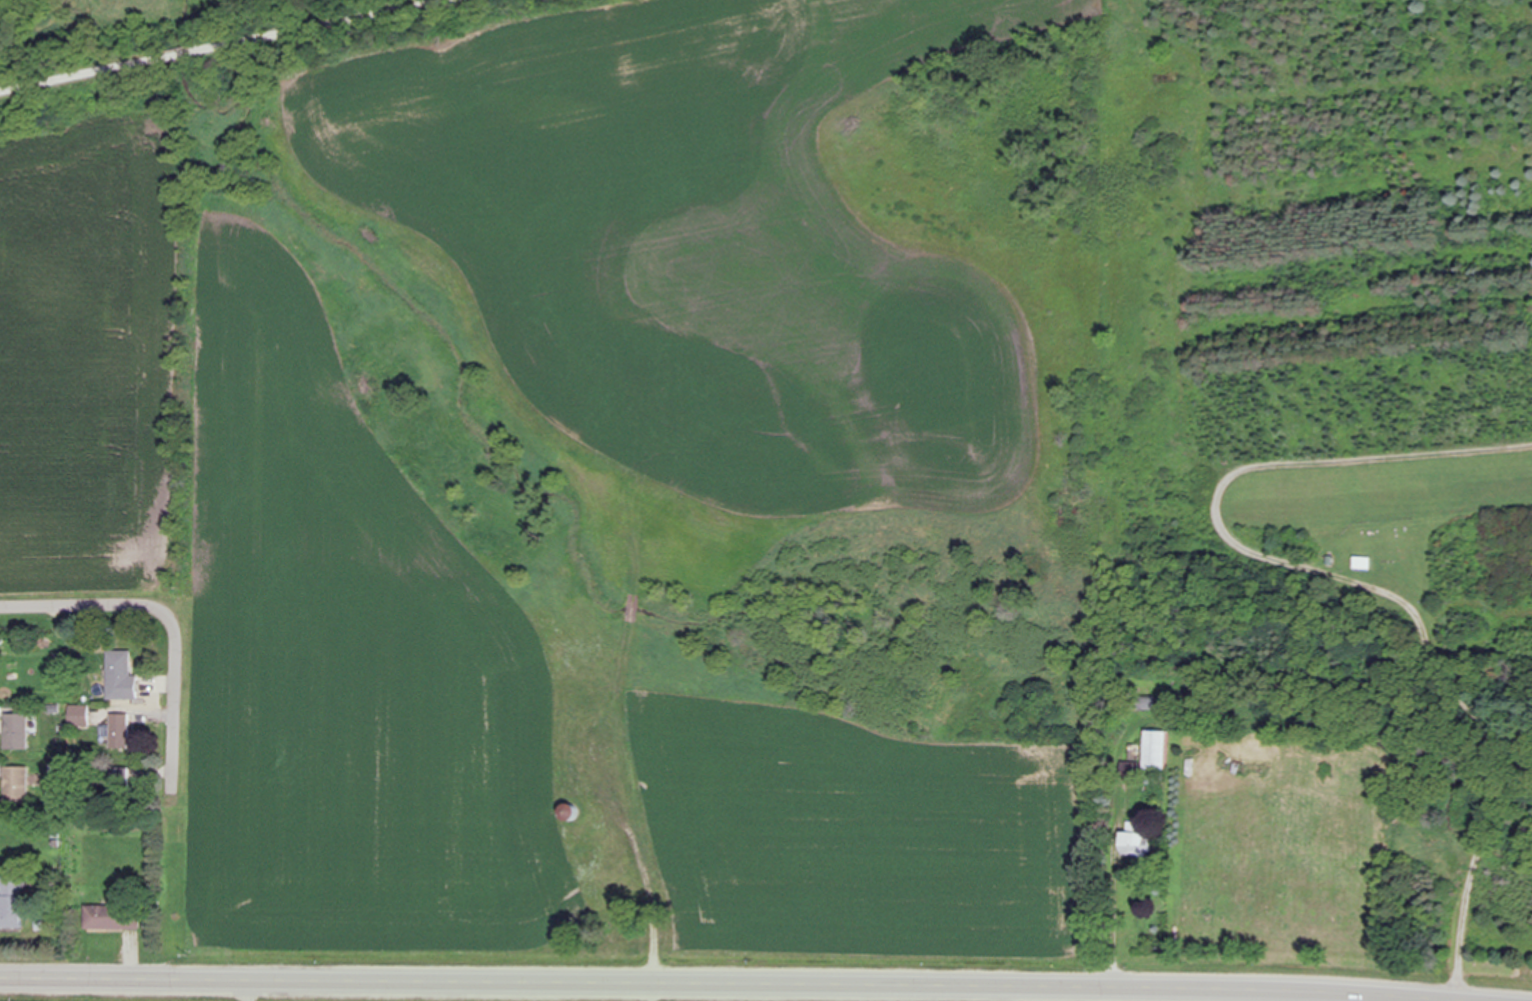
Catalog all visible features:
road: (208, 44)
airport runway: (1387, 488)
building: (1363, 563)
road: (86, 604)
building: (121, 674)
road: (175, 700)
building: (80, 716)
building: (18, 731)
building: (121, 731)
building: (1158, 751)
building: (1130, 772)
building: (121, 779)
building: (18, 784)
building: (1136, 845)
building: (11, 905)
building: (113, 918)
road: (745, 983)

